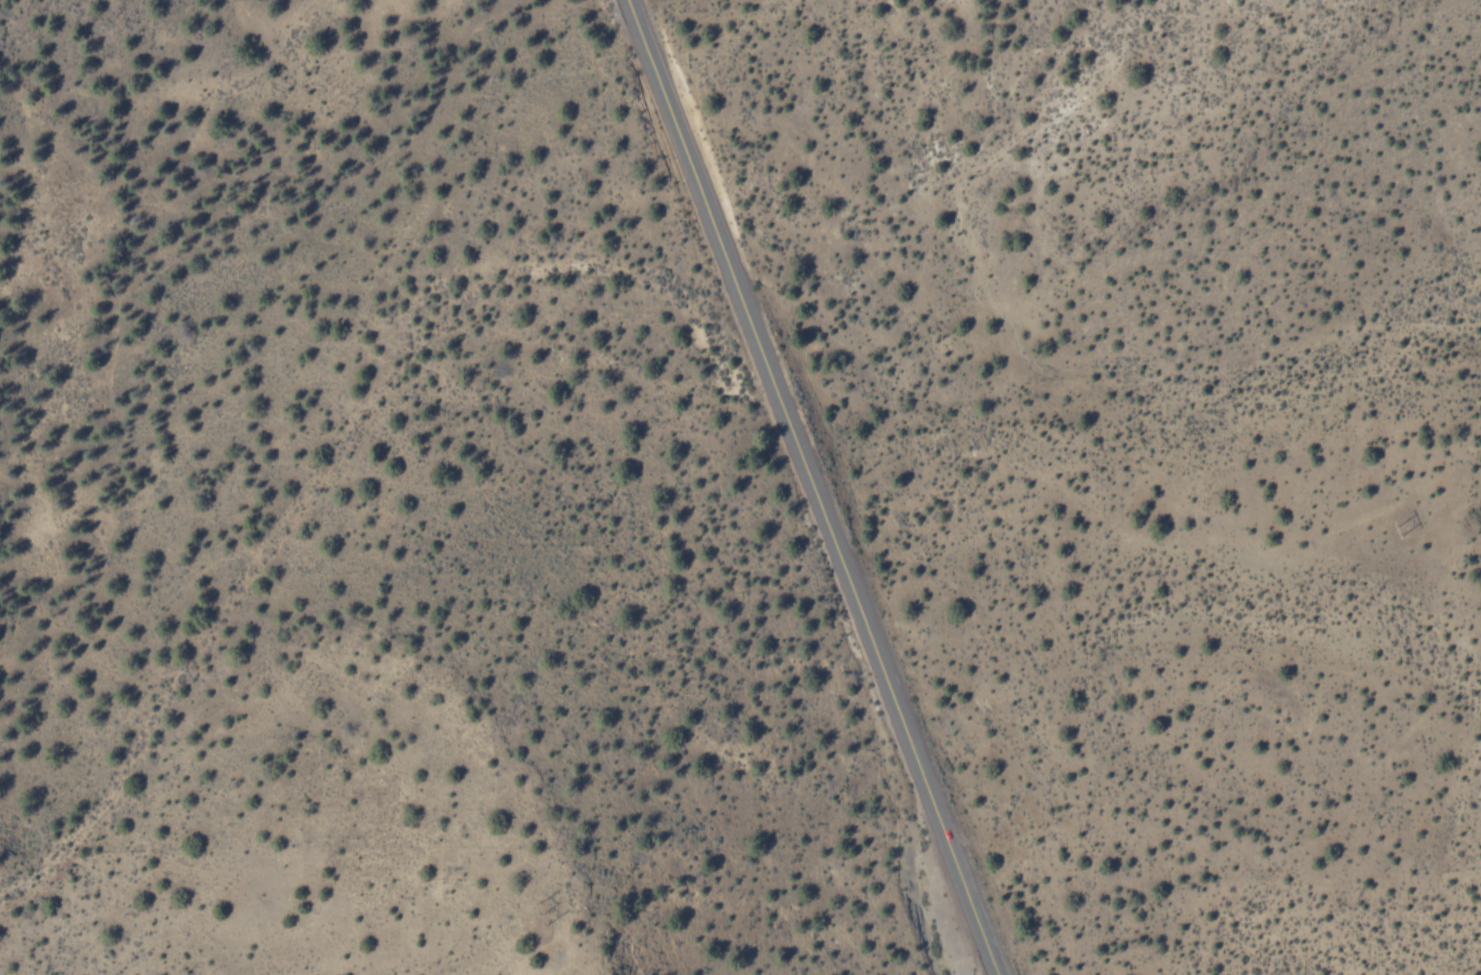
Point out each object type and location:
road: (813, 487)

